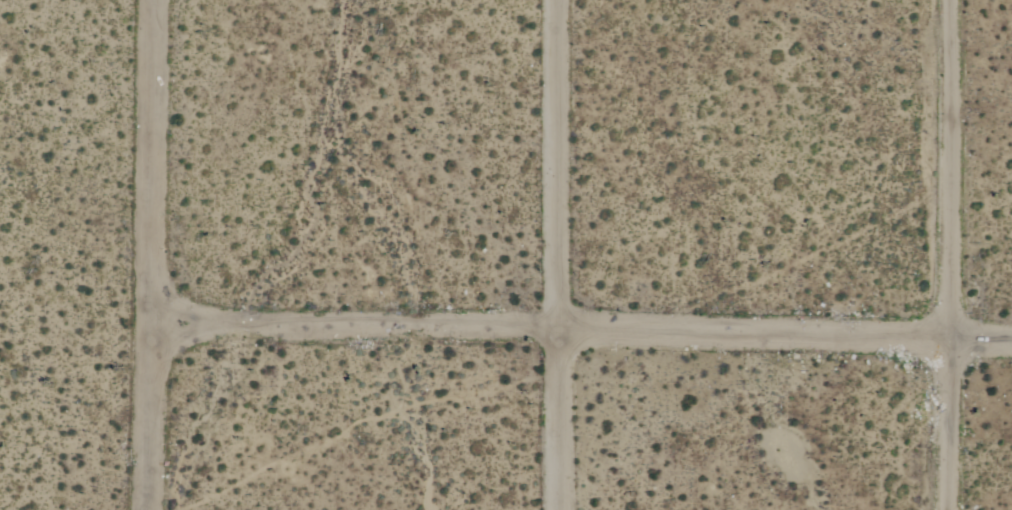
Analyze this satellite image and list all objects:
road: (149, 255)
road: (564, 255)
road: (940, 255)
road: (580, 319)

